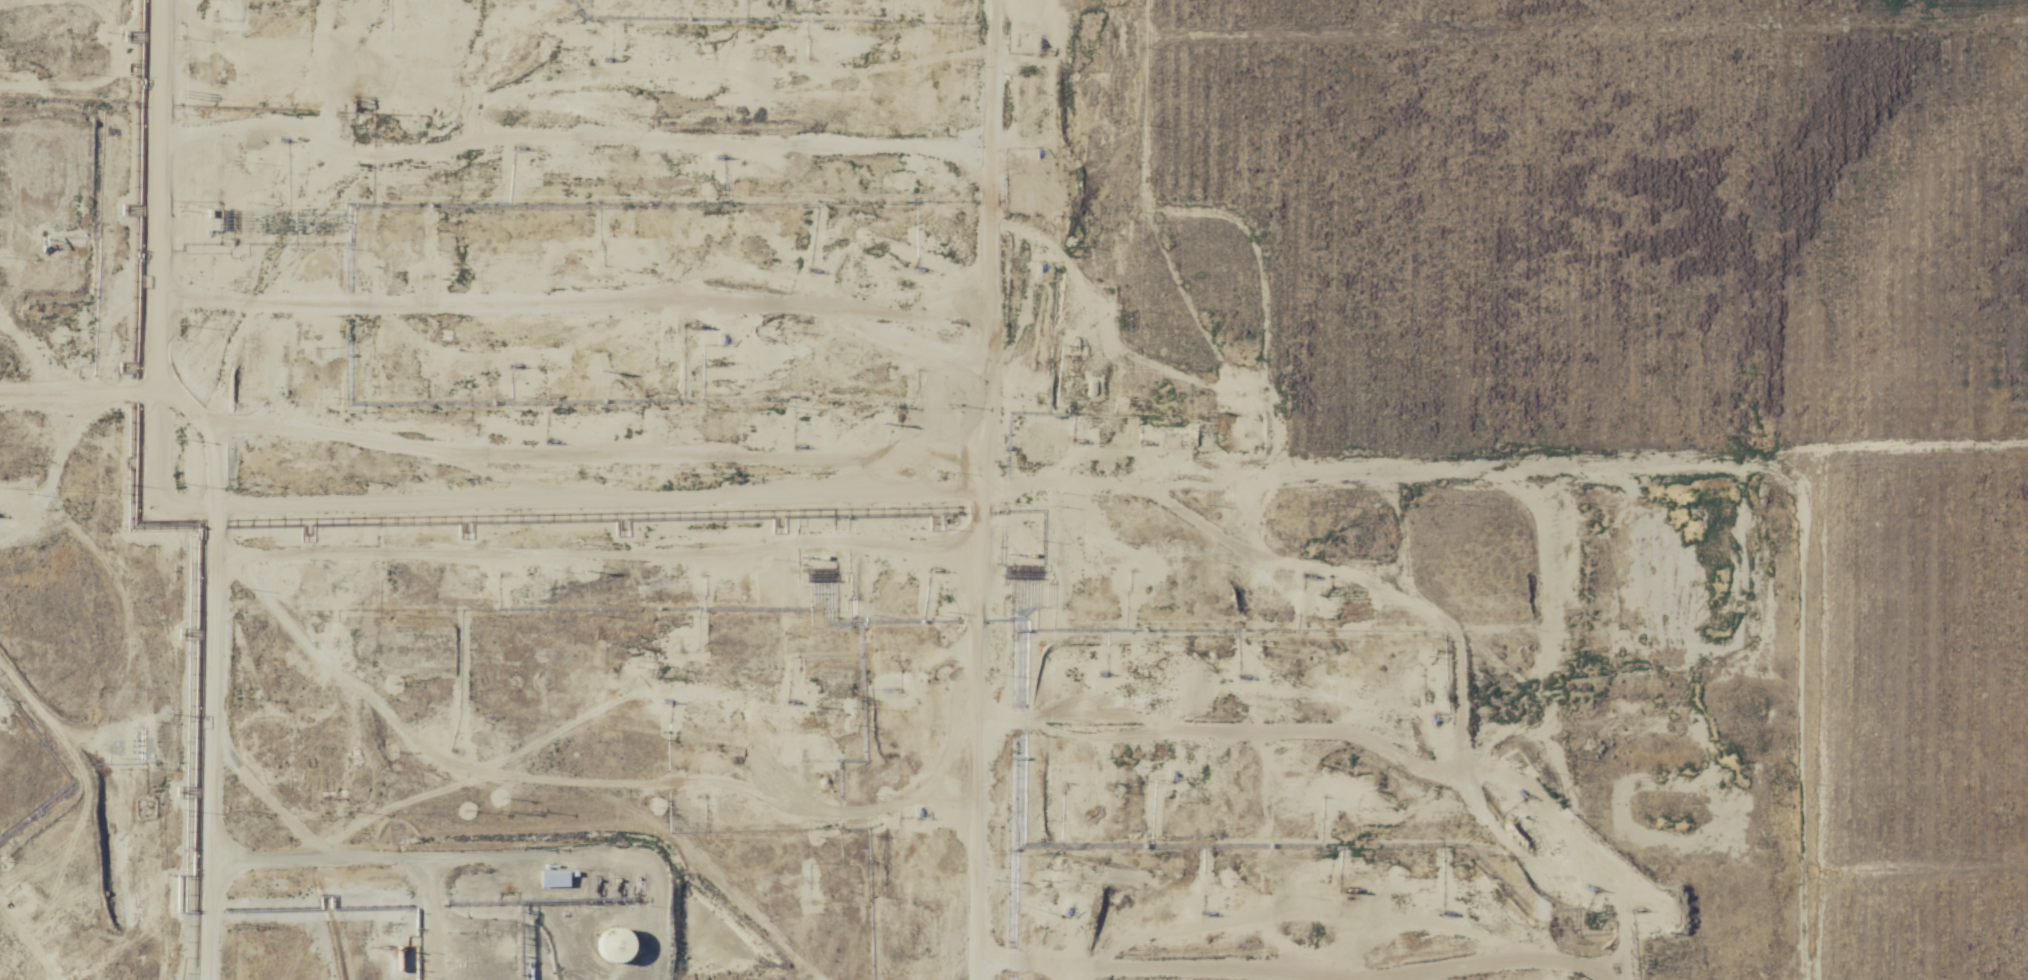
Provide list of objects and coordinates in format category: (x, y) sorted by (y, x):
road: (172, 27)
road: (169, 222)
road: (83, 392)
road: (1662, 416)
road: (993, 490)
road: (28, 951)

